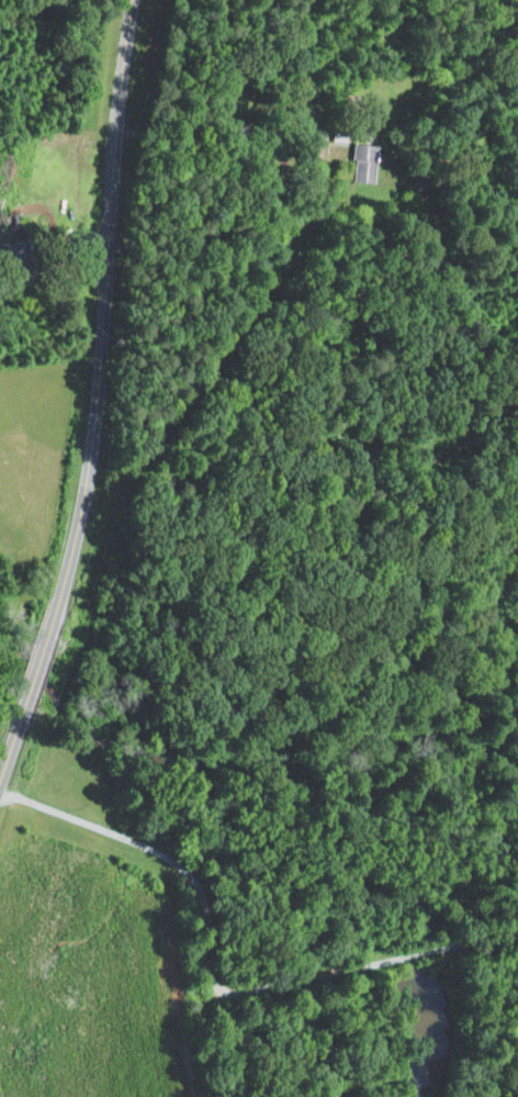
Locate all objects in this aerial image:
road: (211, 123)
building: (364, 164)
road: (94, 396)
road: (210, 982)

